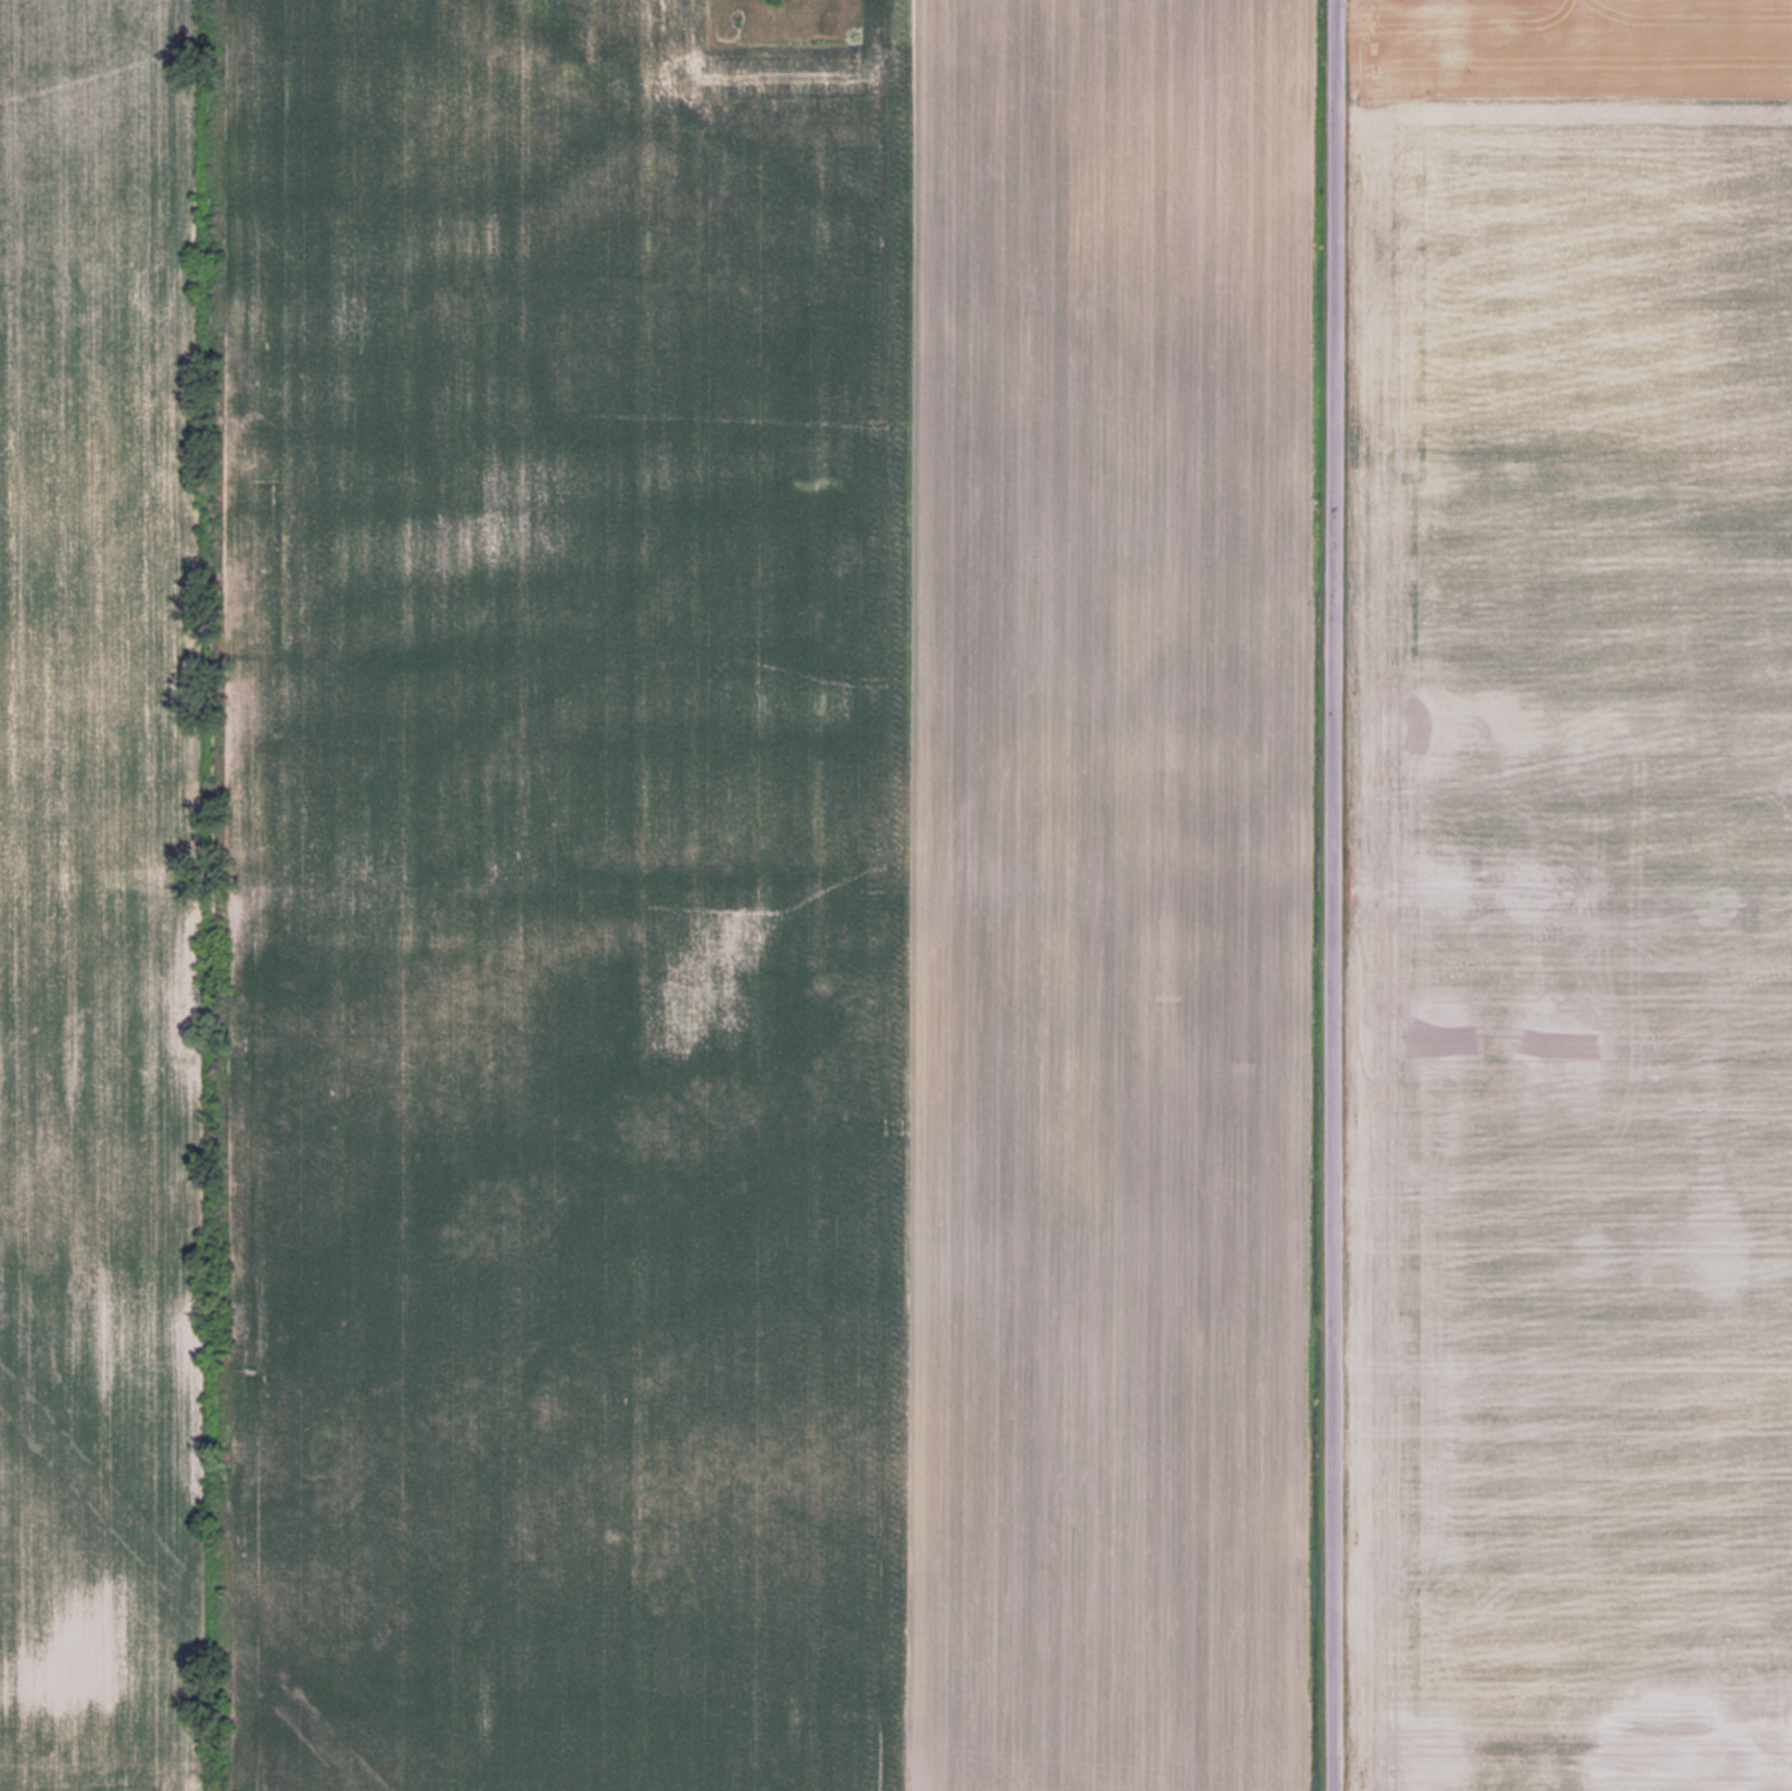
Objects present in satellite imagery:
road: (1335, 895)

